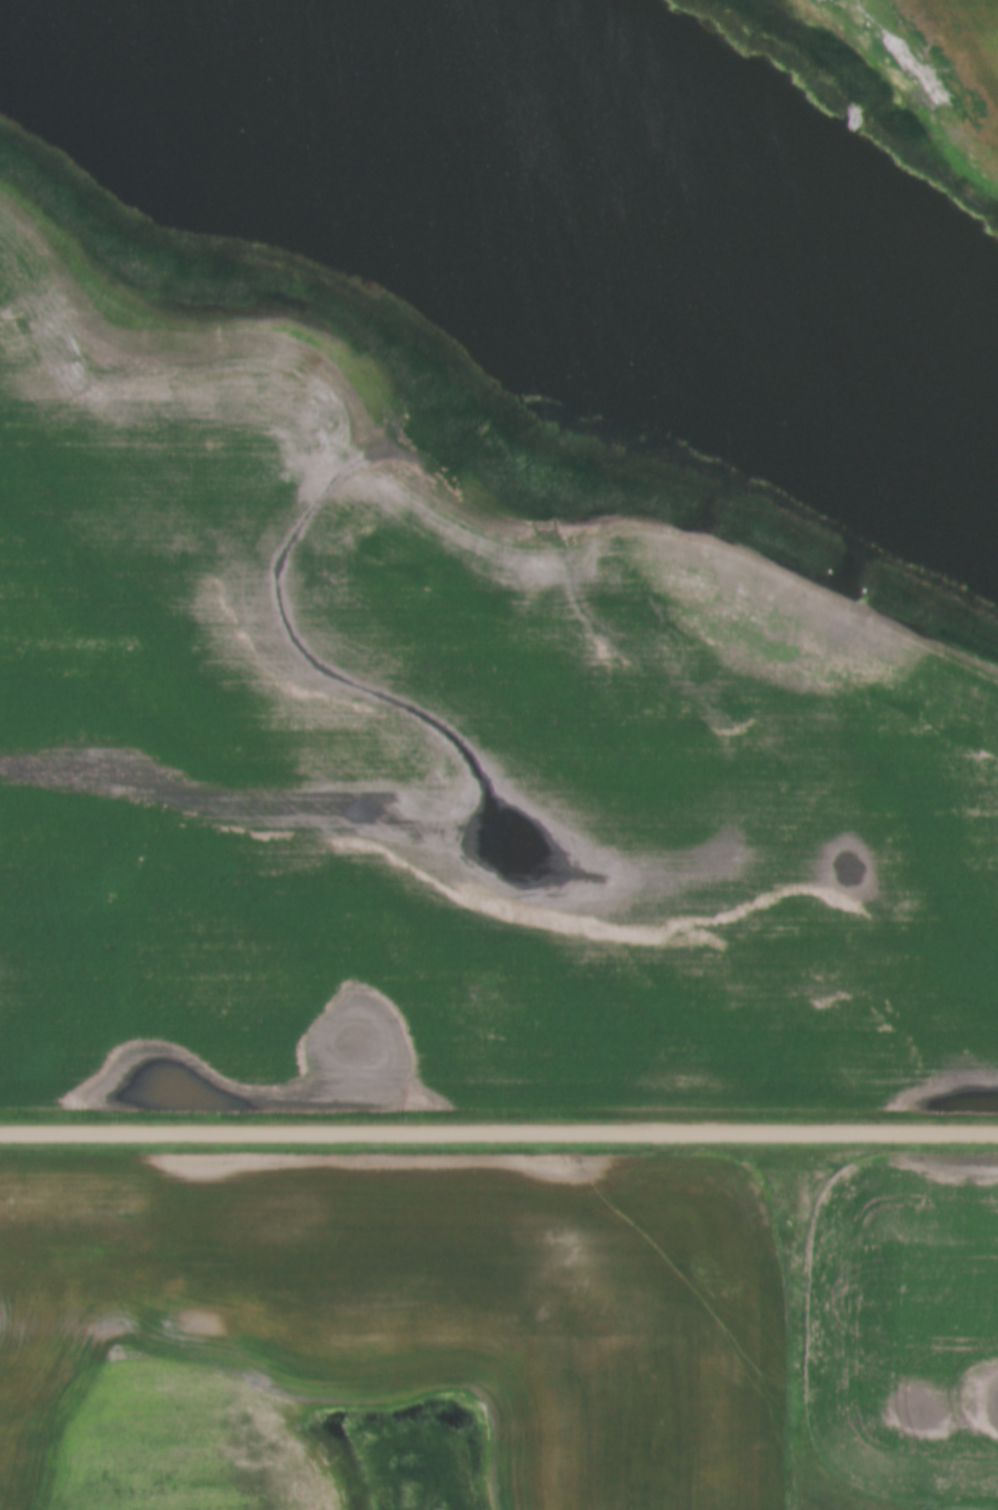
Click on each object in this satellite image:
road: (499, 1134)

